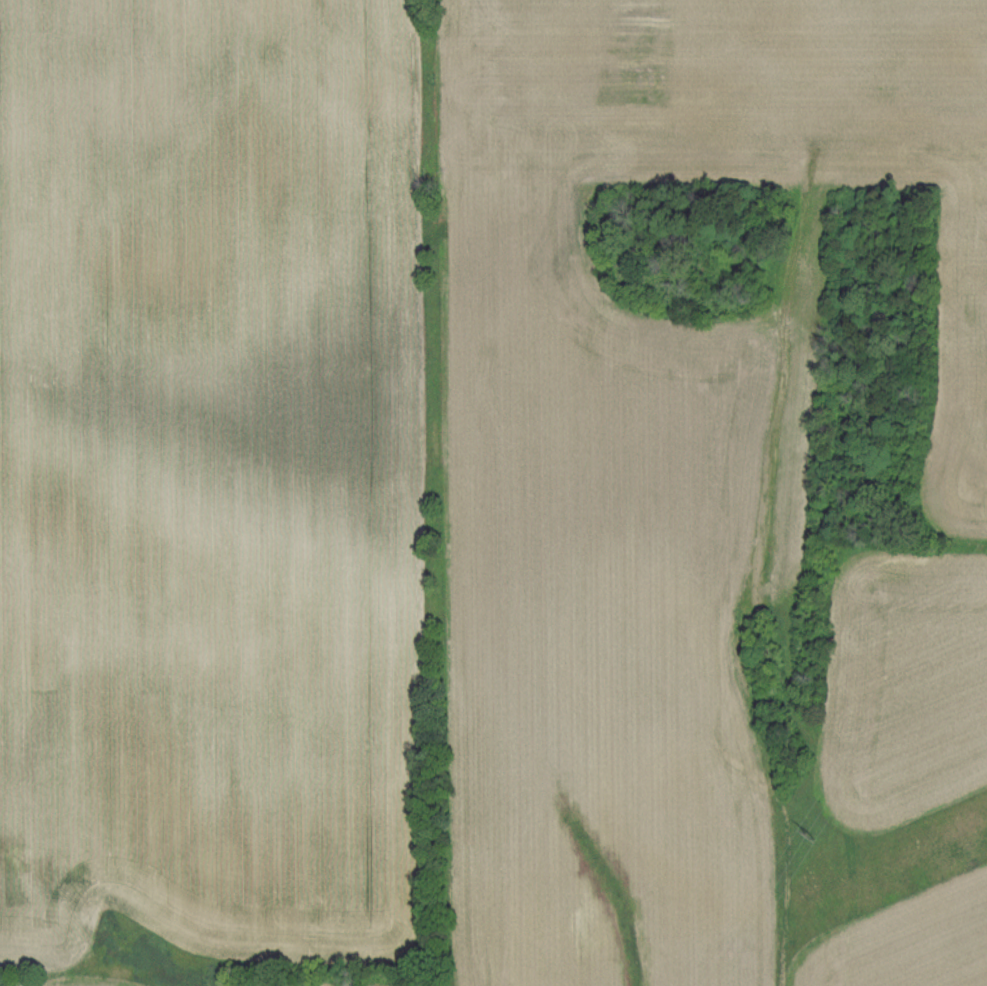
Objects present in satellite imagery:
power tower: (818, 833)

